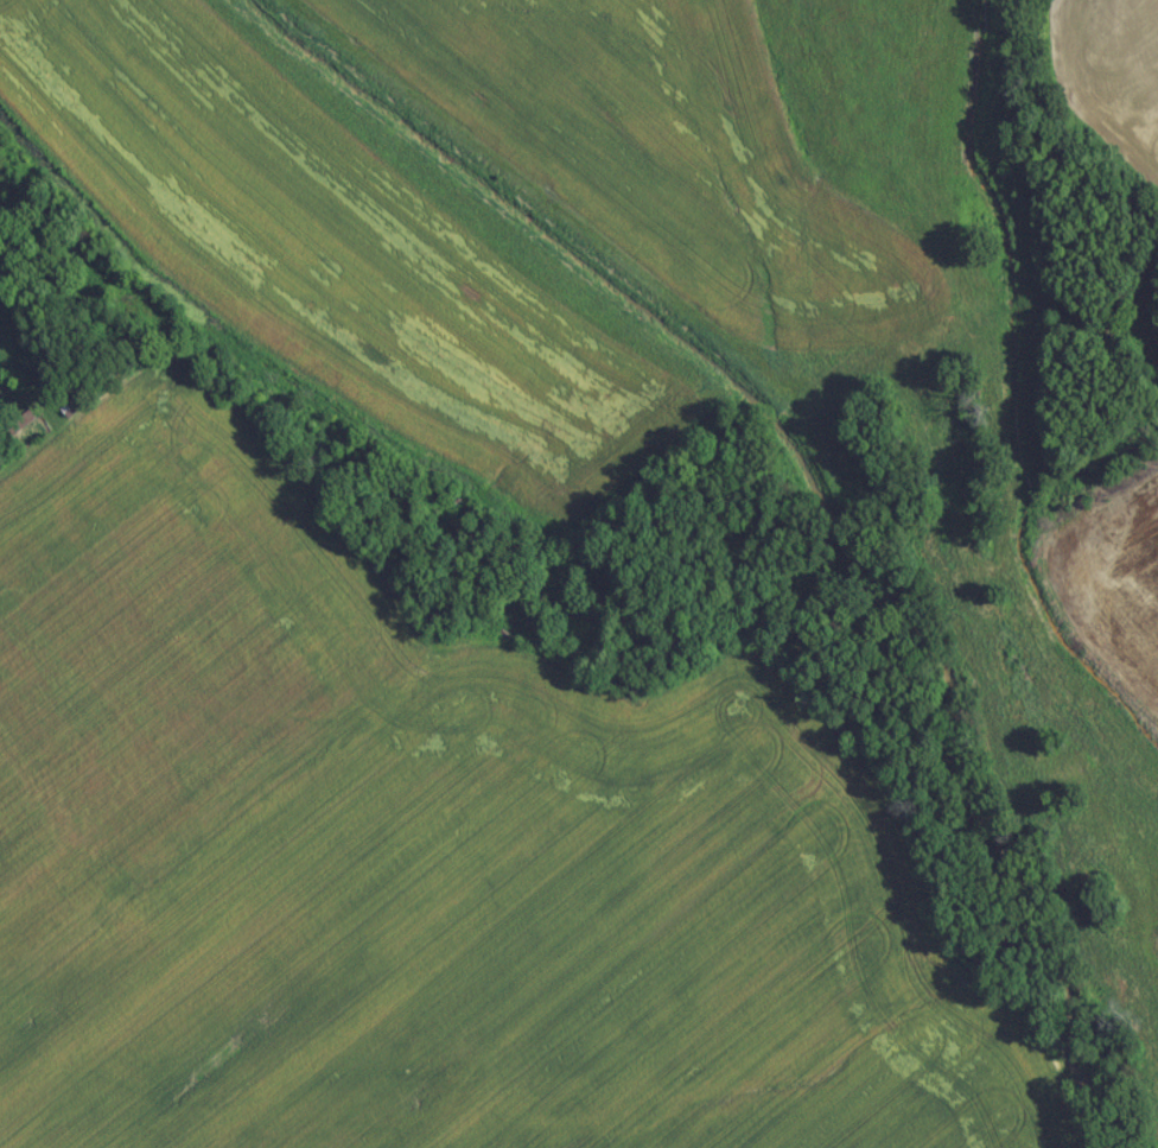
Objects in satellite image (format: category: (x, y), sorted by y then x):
road: (33, 332)

